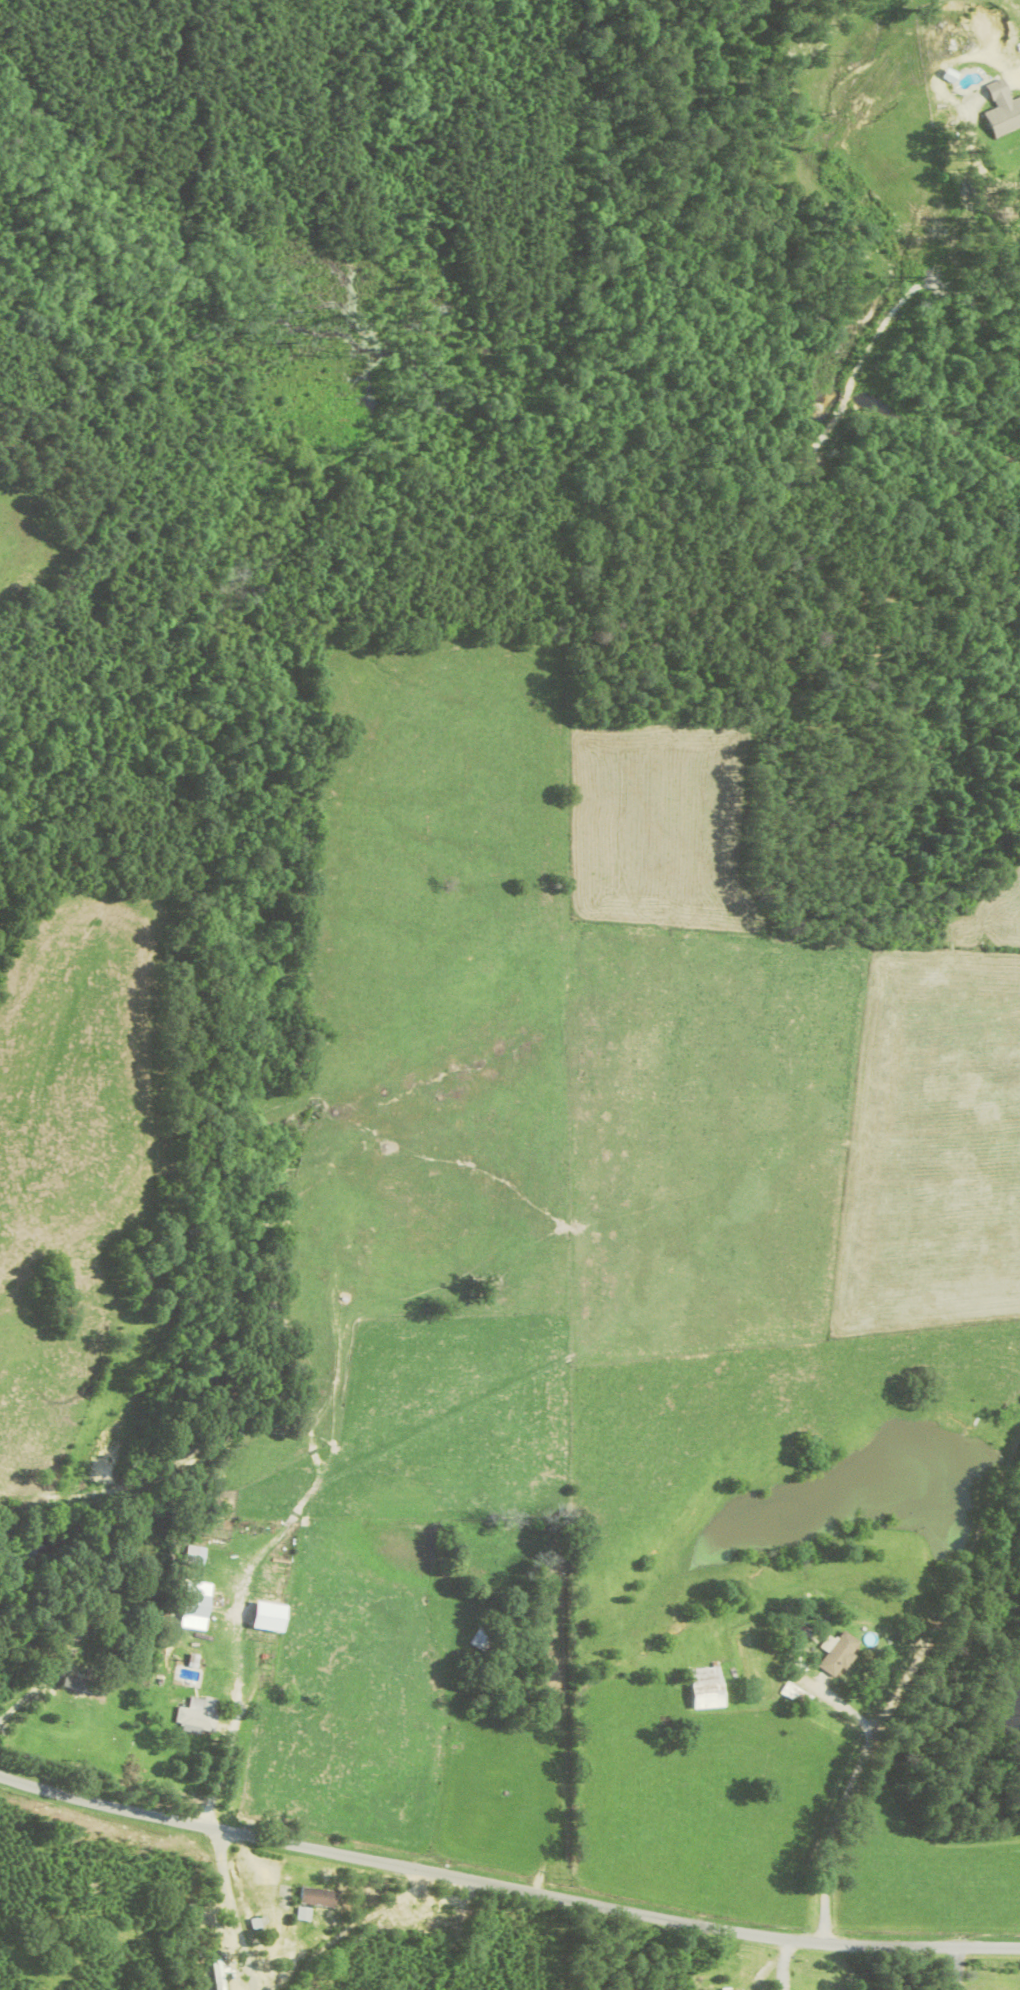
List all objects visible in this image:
road: (202, 2)
building: (1004, 118)
building: (196, 1552)
building: (508, 1554)
building: (197, 1605)
building: (77, 1642)
building: (839, 1653)
building: (708, 1688)
road: (29, 1690)
building: (198, 1716)
road: (217, 1776)
road: (843, 1798)
road: (505, 1886)
building: (318, 1897)
road: (231, 1912)
building: (440, 1922)
road: (339, 1932)
road: (957, 1970)
building: (219, 1975)

